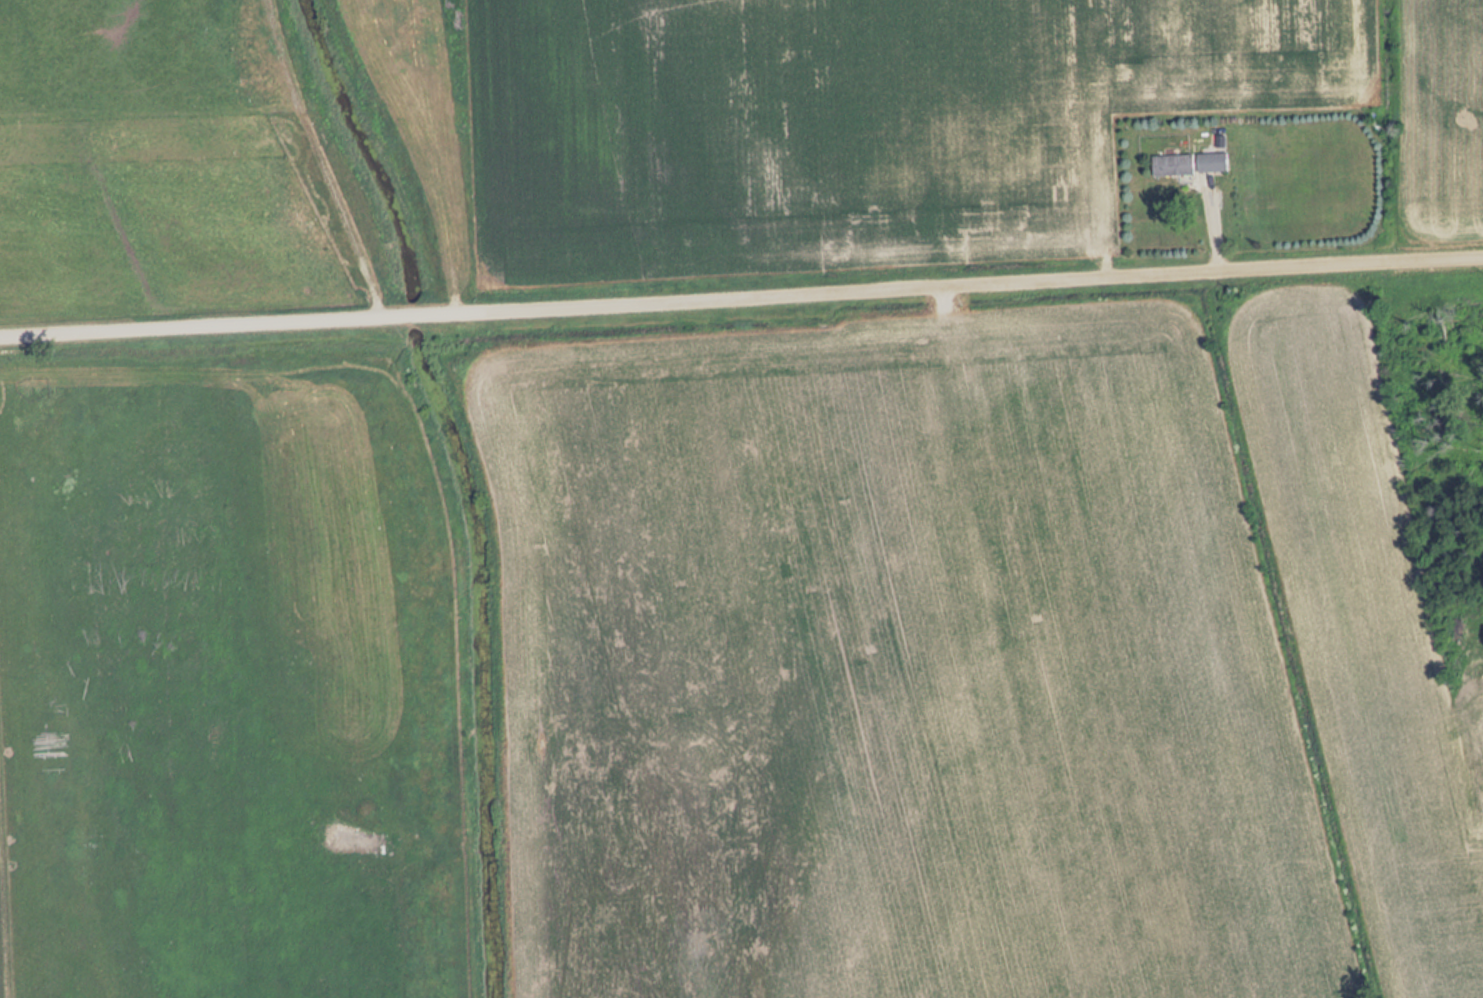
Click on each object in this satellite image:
road: (318, 159)
building: (1215, 161)
building: (1176, 164)
road: (741, 297)

